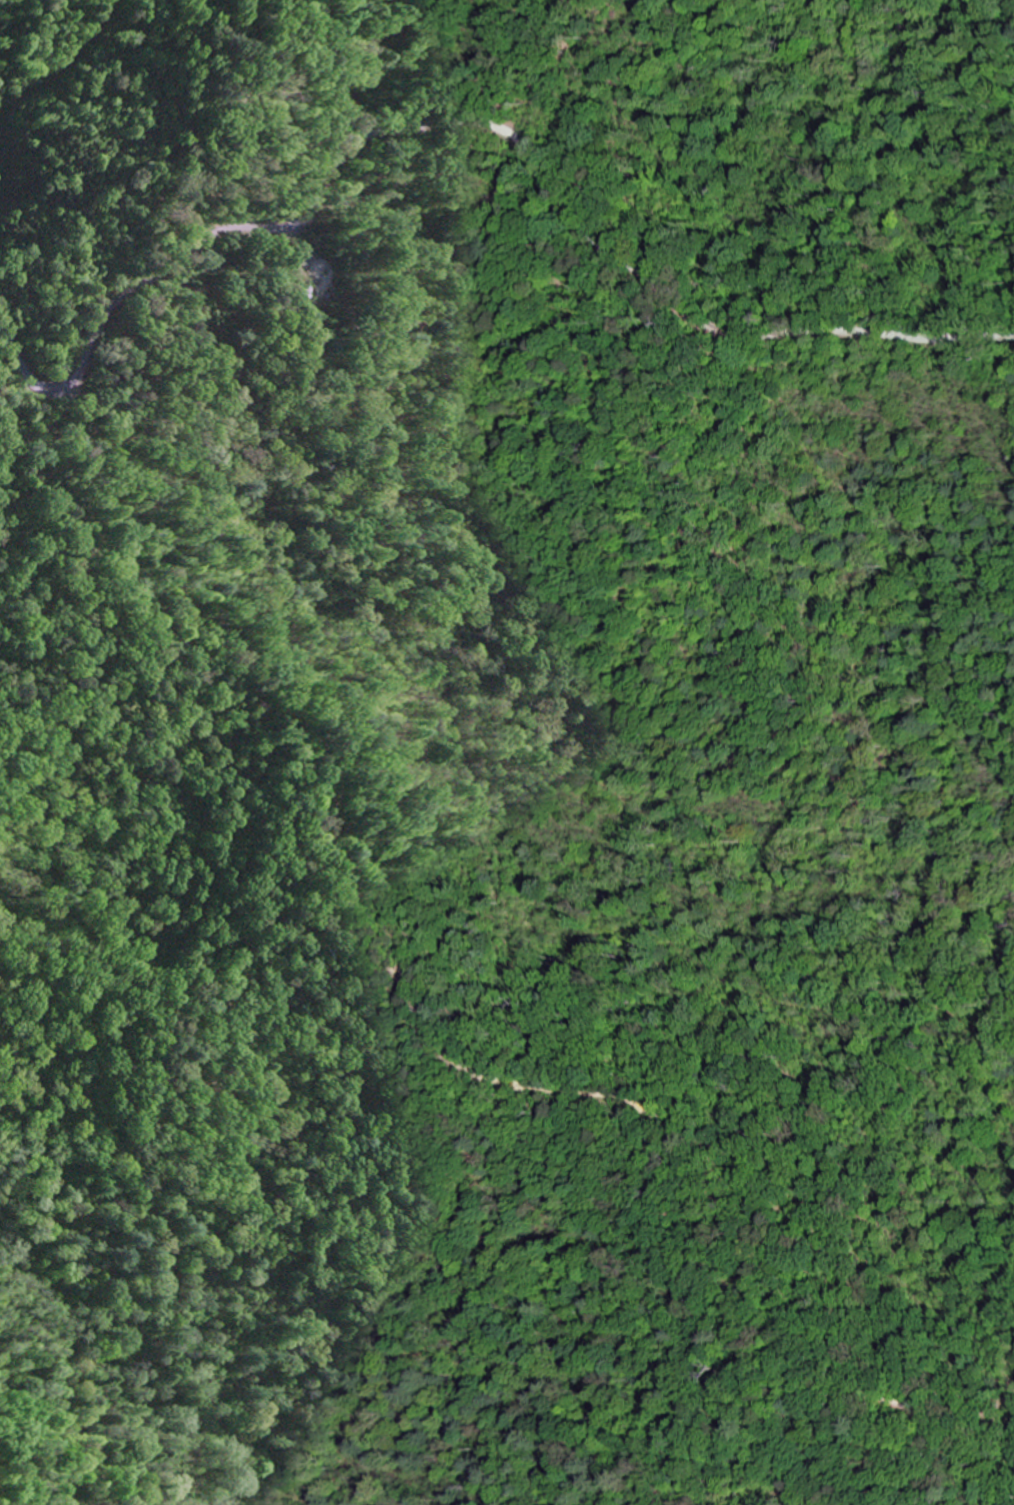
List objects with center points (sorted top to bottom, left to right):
road: (336, 63)
road: (166, 270)
road: (660, 283)
road: (946, 594)

